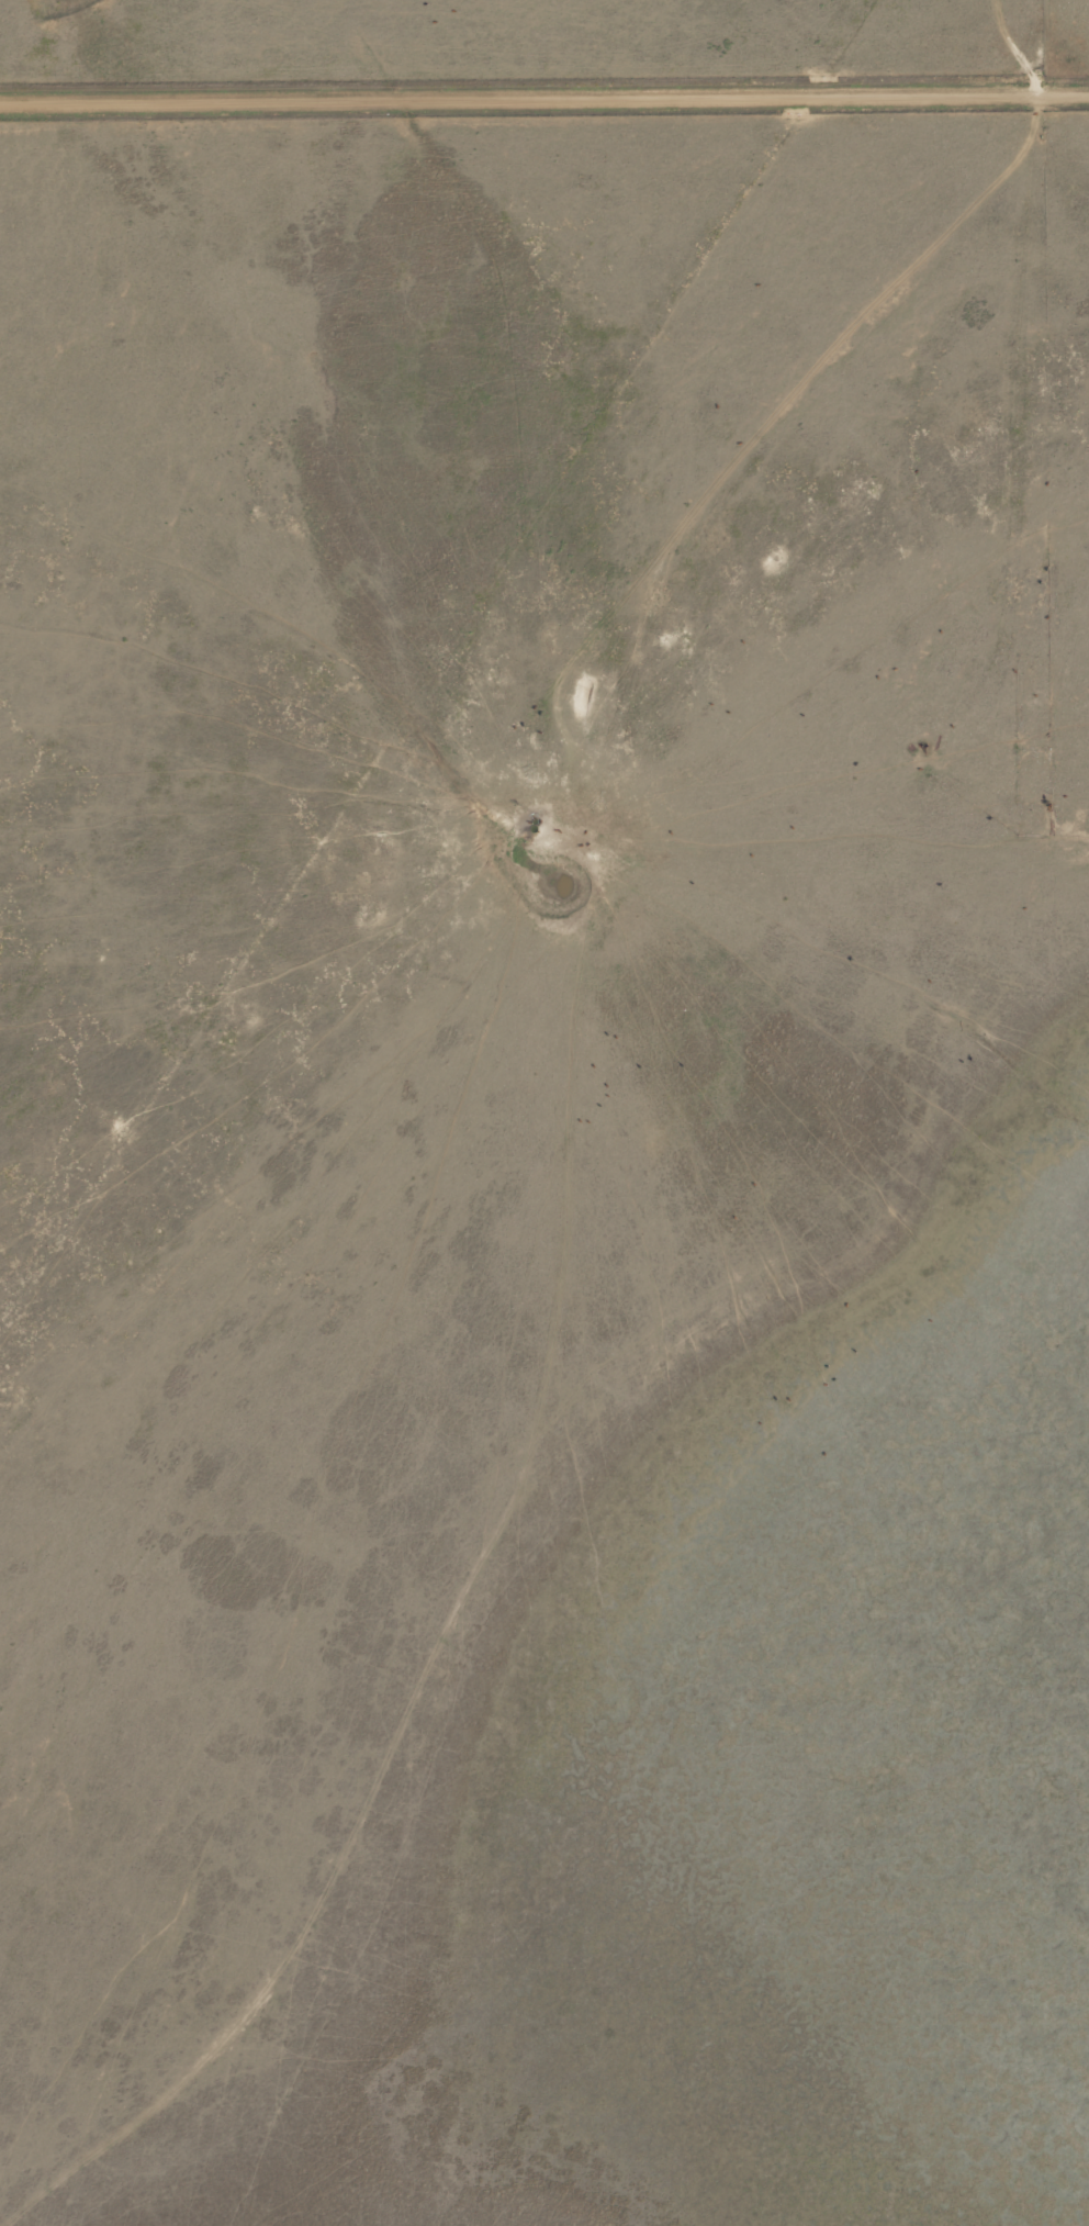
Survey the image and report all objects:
road: (543, 96)

